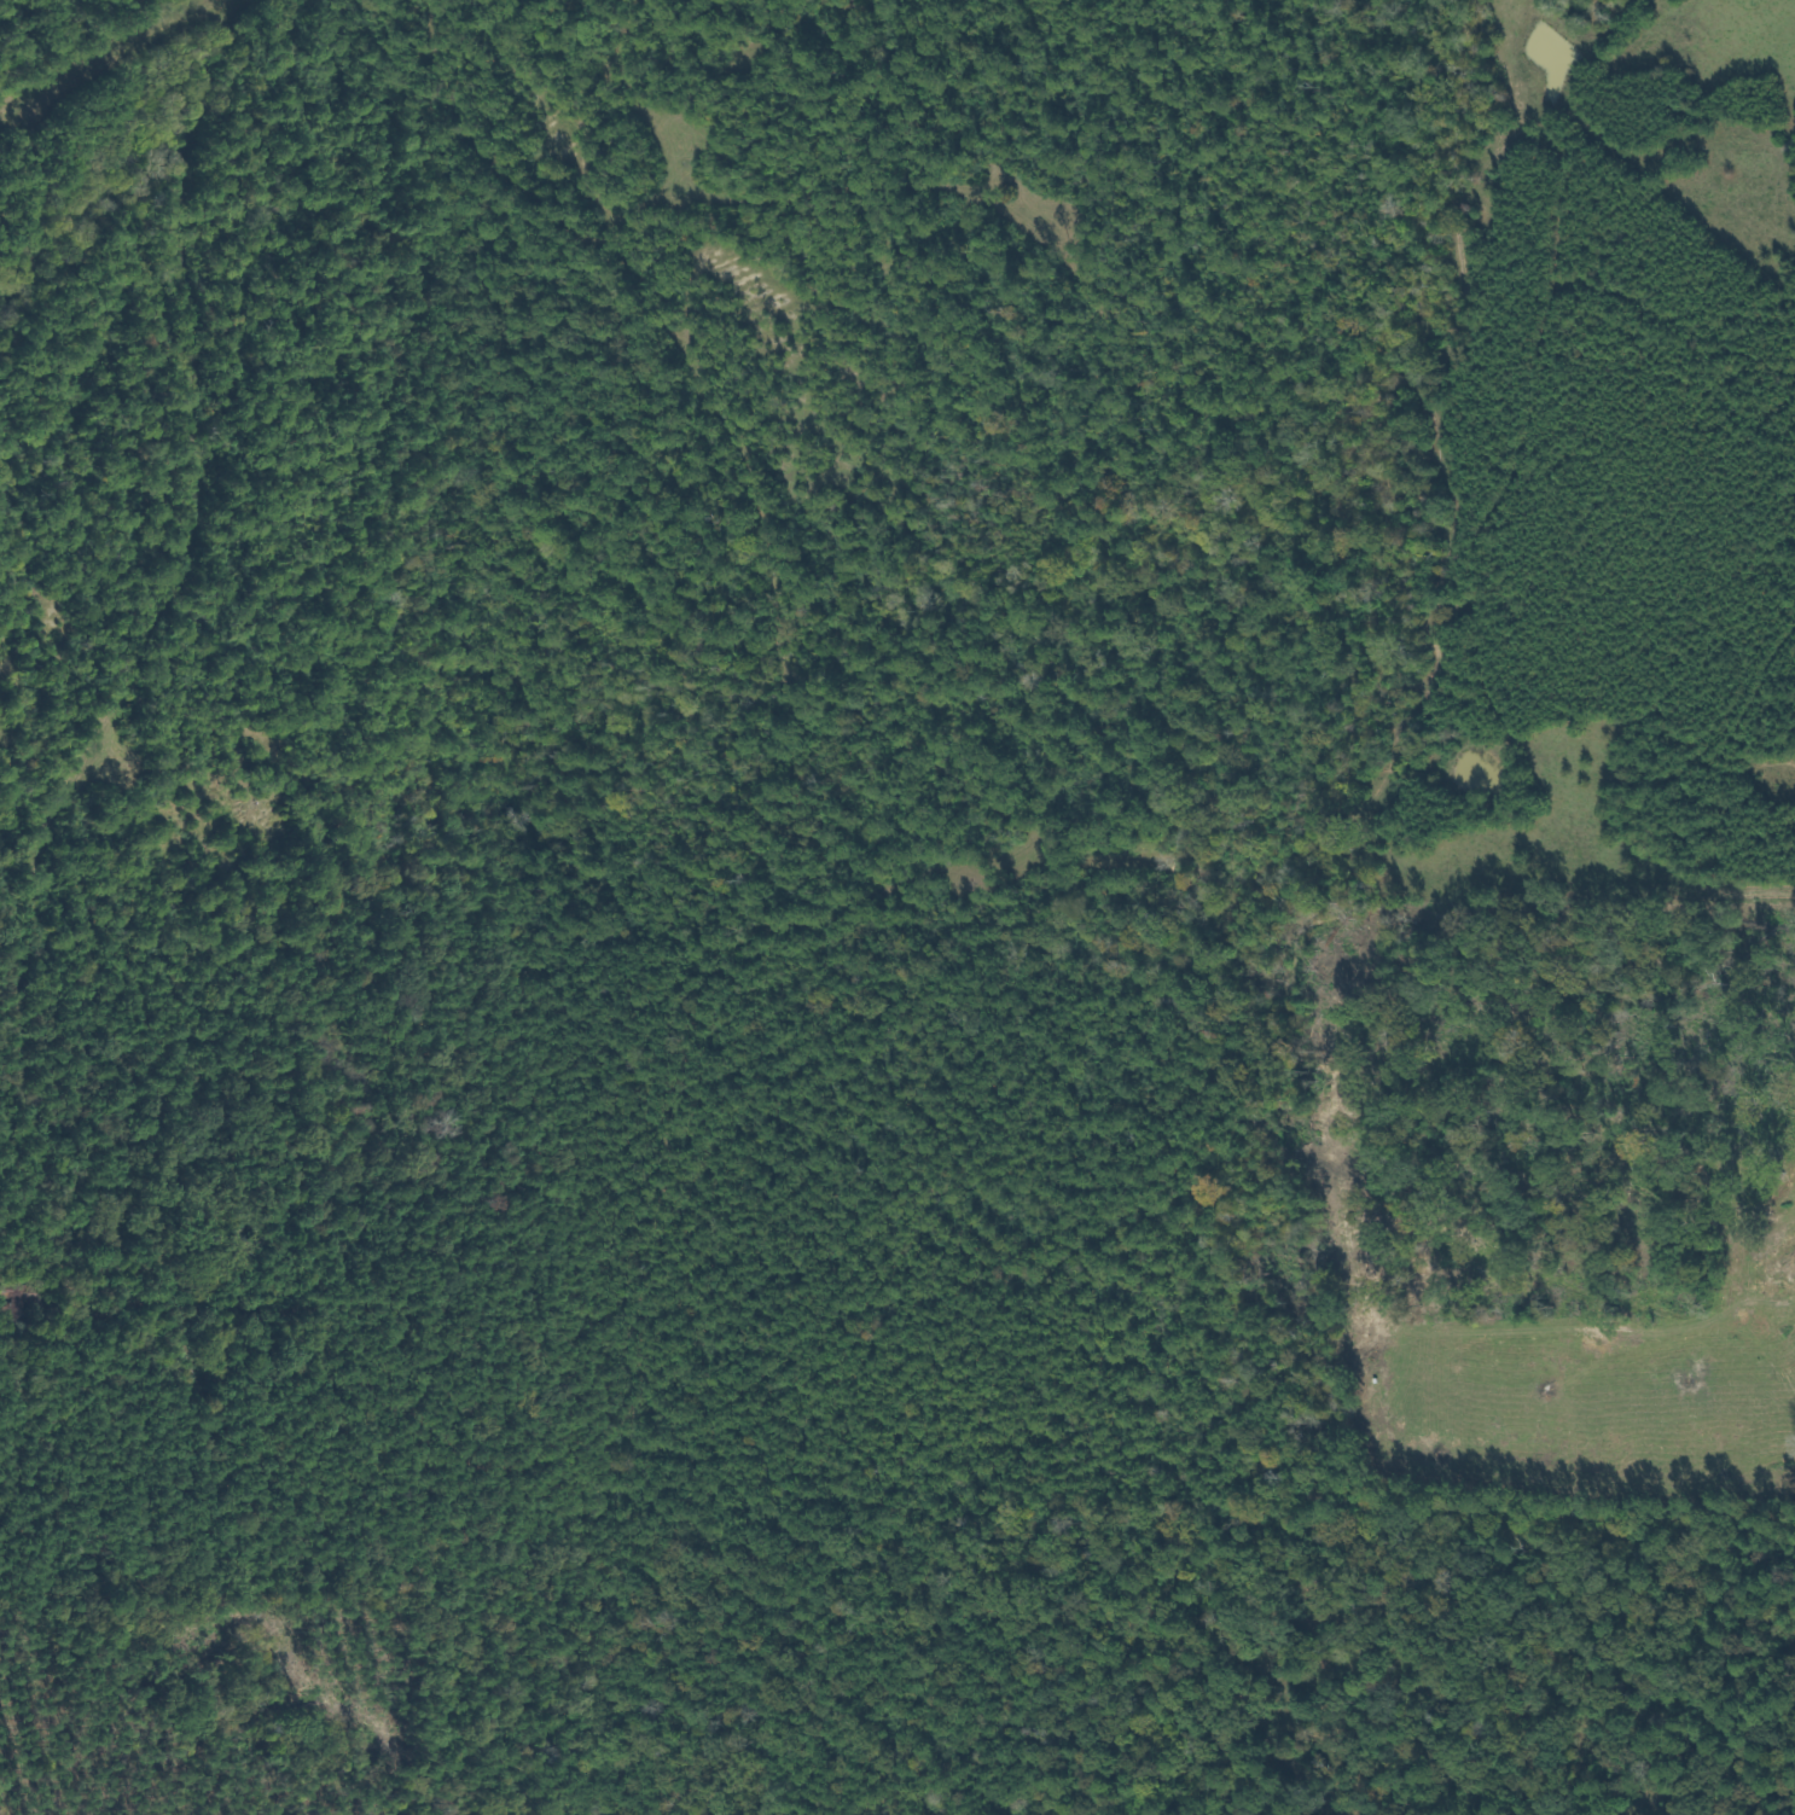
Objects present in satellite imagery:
building: (23, 1301)

